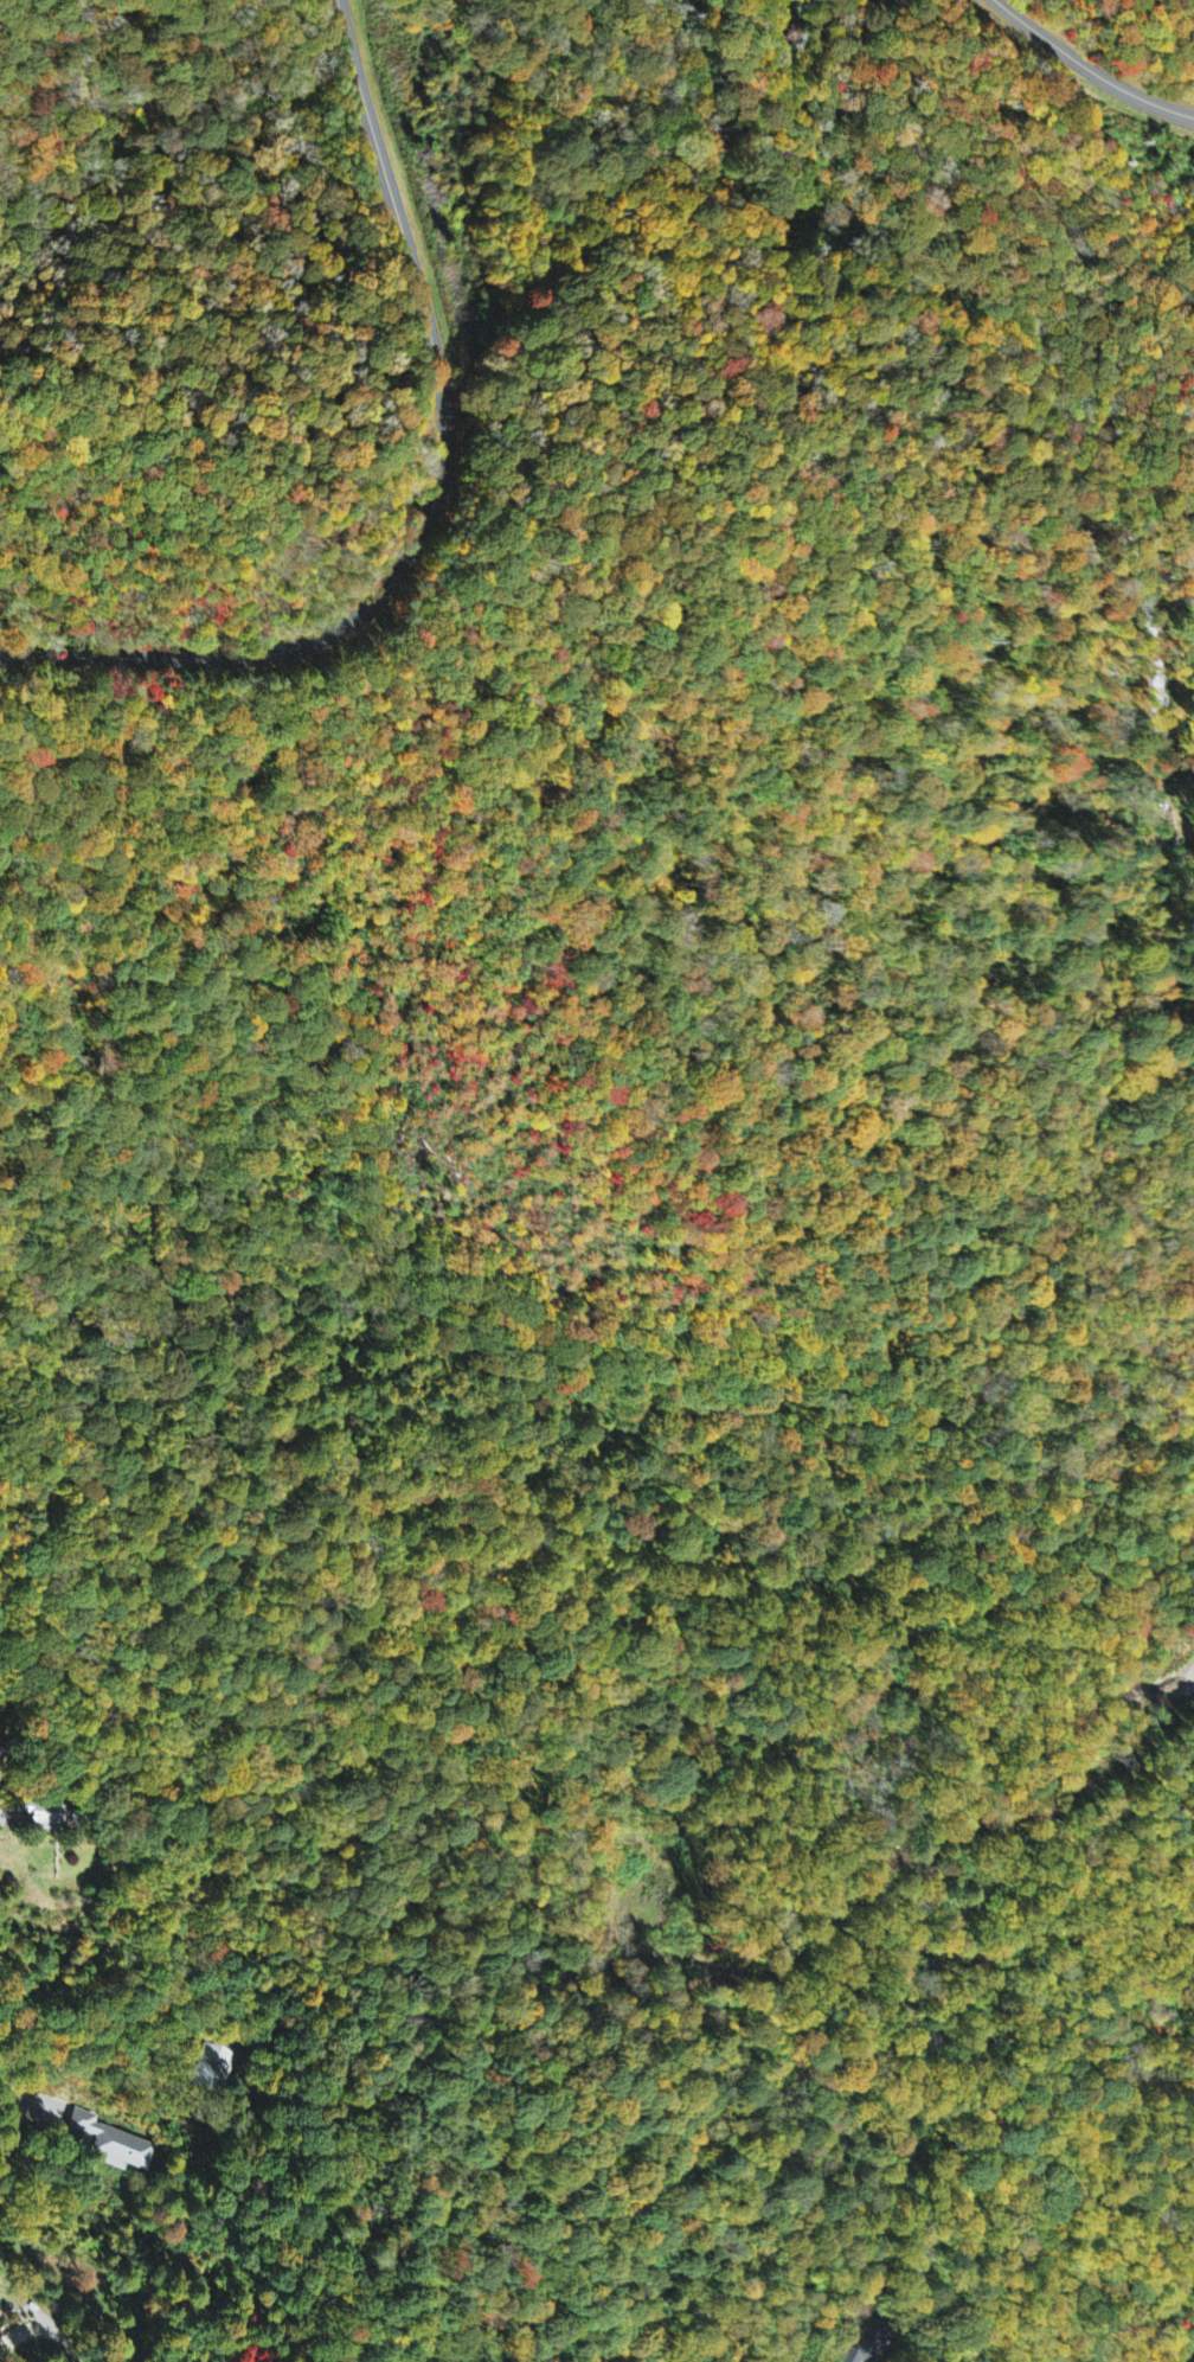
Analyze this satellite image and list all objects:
road: (1091, 68)
road: (203, 377)
road: (439, 498)
road: (38, 1534)
road: (95, 1707)
building: (94, 2133)
road: (60, 2331)

